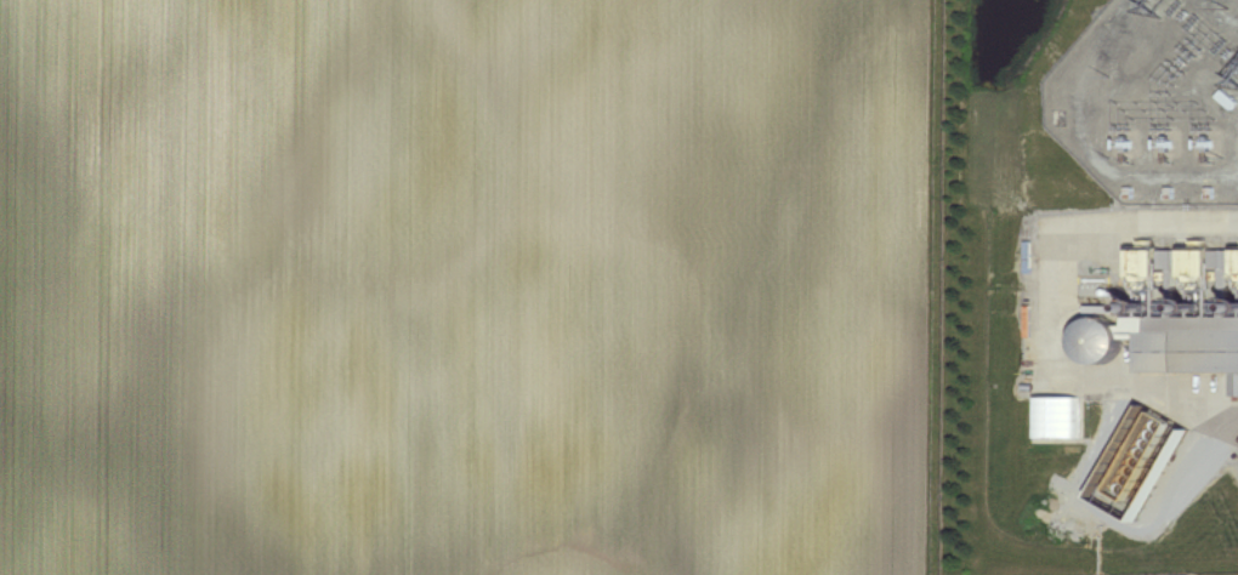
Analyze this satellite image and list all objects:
power substation: (1153, 97)
chimney: (1147, 309)
chimney: (1199, 311)
silo: (1101, 336)
building: (1187, 340)
building: (1061, 417)
building: (1148, 452)

